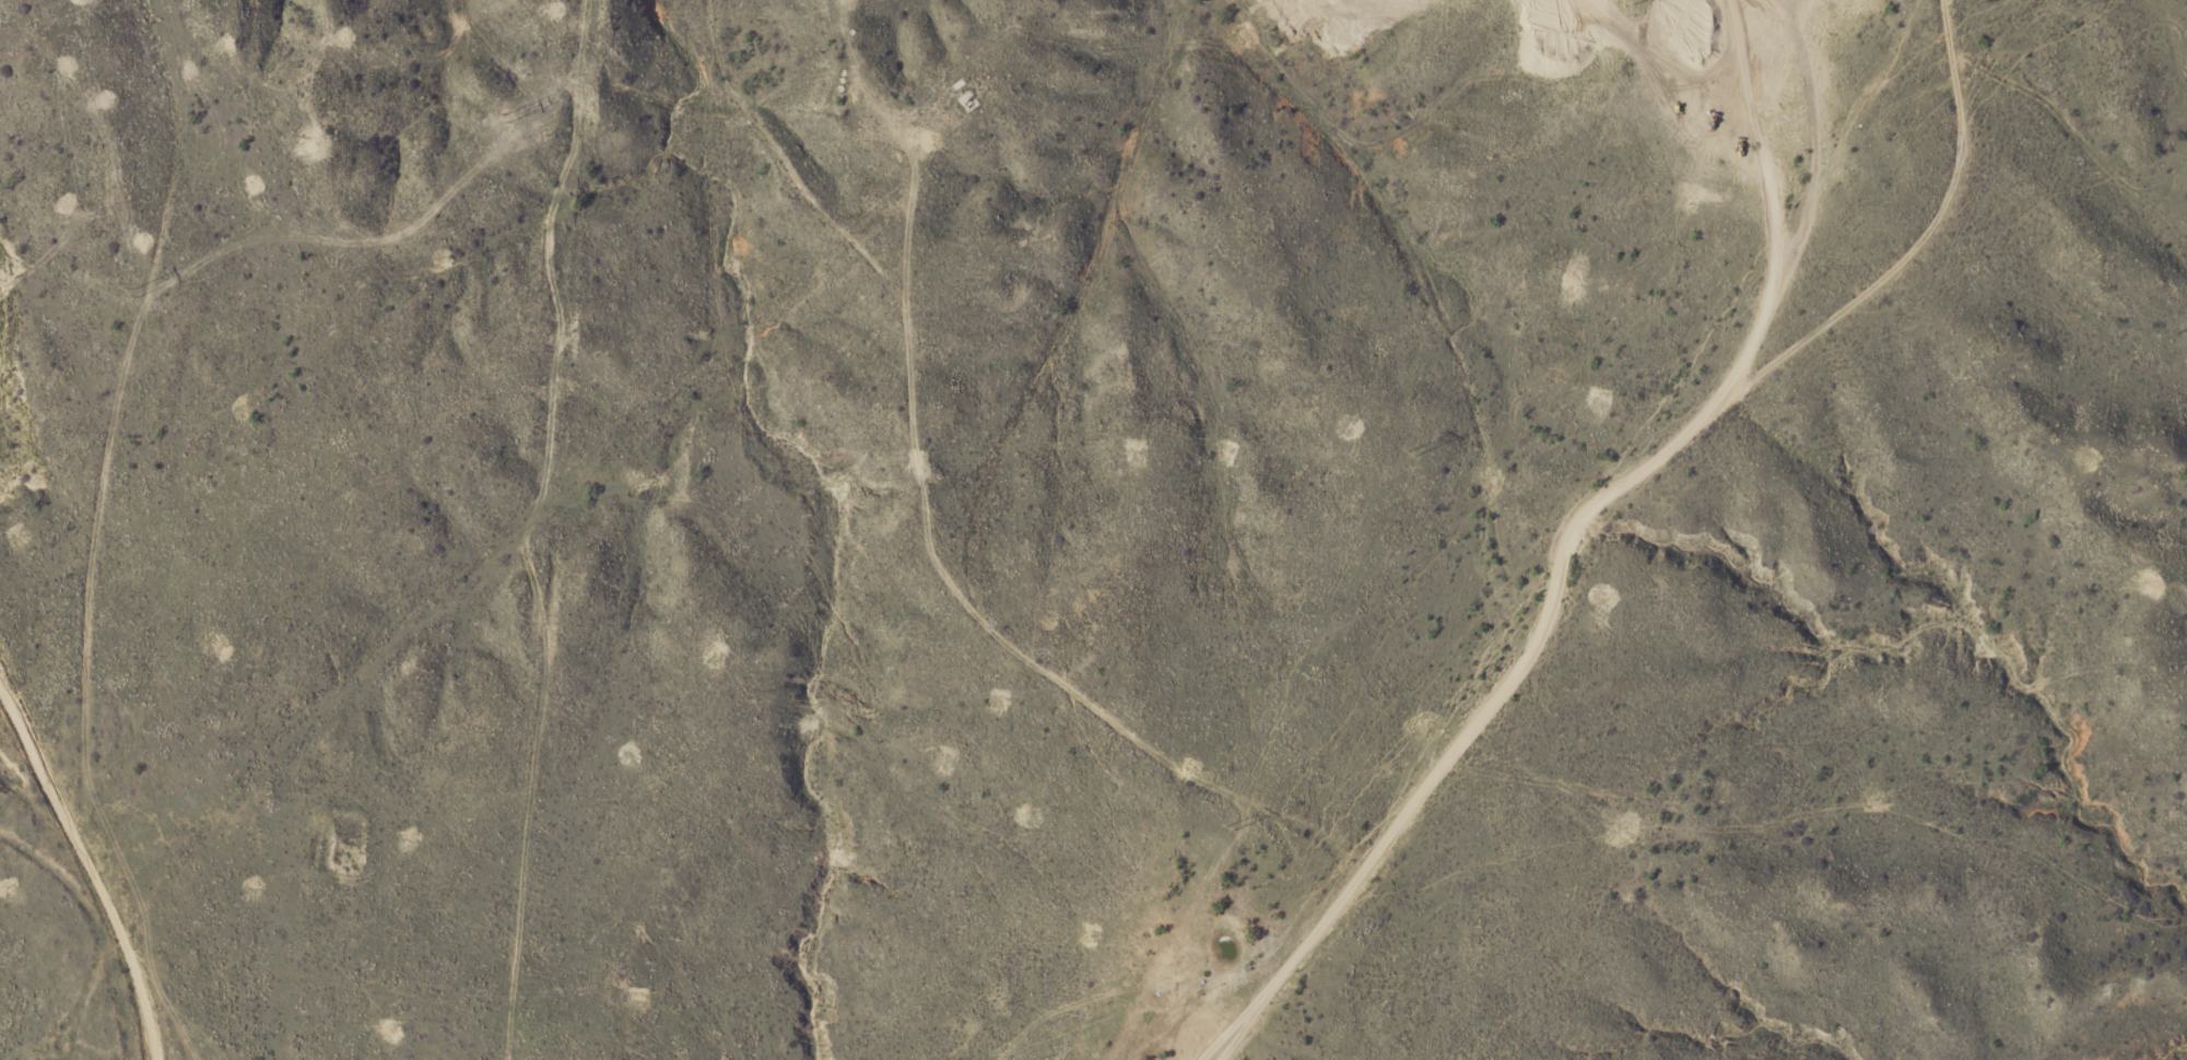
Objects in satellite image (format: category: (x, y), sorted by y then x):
power tower: (1629, 0)
power tower: (507, 118)
power tower: (136, 292)
power tower: (1410, 452)
power tower: (1228, 828)

